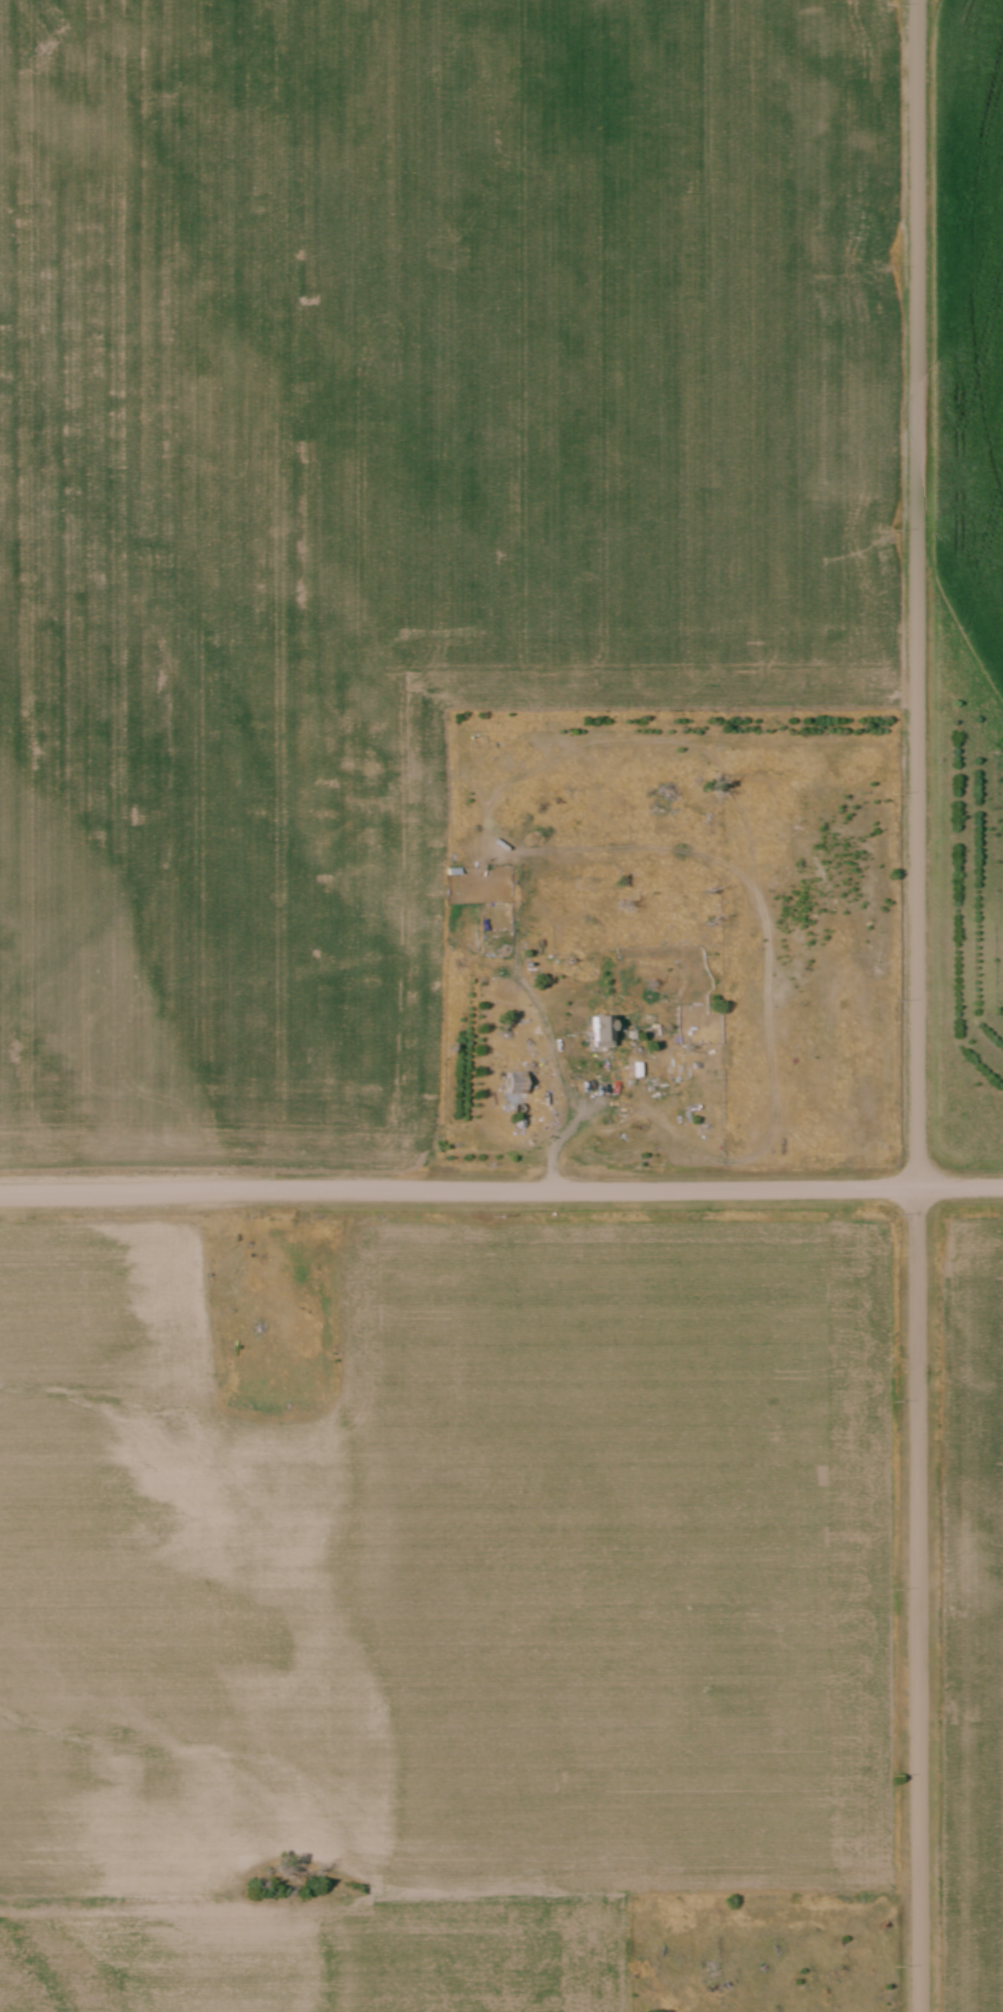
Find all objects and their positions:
road: (918, 1006)
building: (606, 1033)
building: (519, 1084)
road: (557, 1086)
road: (501, 1190)

